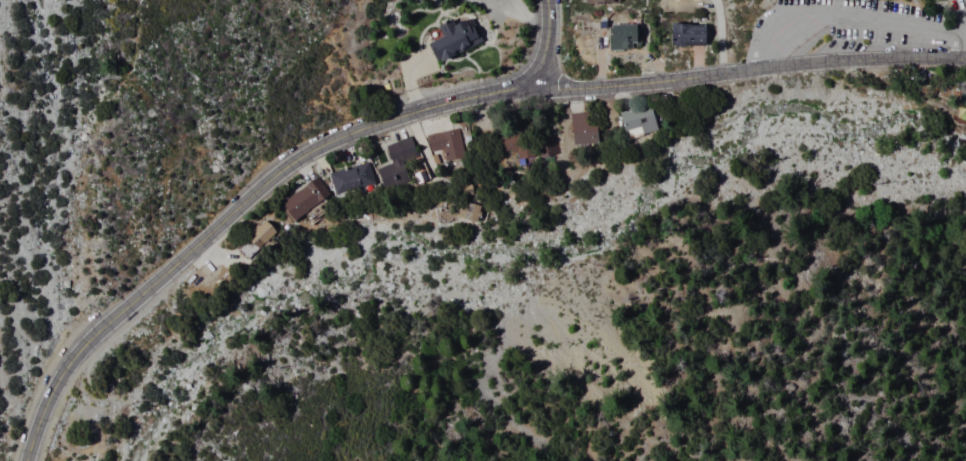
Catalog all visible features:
building: (683, 0)
building: (698, 0)
building: (600, 1)
road: (526, 17)
road: (849, 20)
parking lot: (851, 30)
building: (684, 35)
building: (622, 37)
road: (720, 37)
building: (449, 39)
road: (960, 39)
road: (640, 58)
road: (699, 64)
road: (603, 65)
road: (748, 71)
building: (912, 79)
road: (410, 82)
building: (940, 89)
road: (572, 101)
road: (495, 113)
road: (400, 118)
building: (631, 119)
road: (467, 121)
road: (426, 127)
building: (576, 129)
road: (394, 130)
building: (442, 143)
building: (545, 144)
building: (513, 145)
road: (420, 148)
road: (347, 149)
road: (317, 160)
building: (391, 163)
road: (302, 168)
building: (345, 177)
building: (300, 197)
building: (466, 212)
building: (254, 235)
road: (218, 260)
road: (100, 332)

